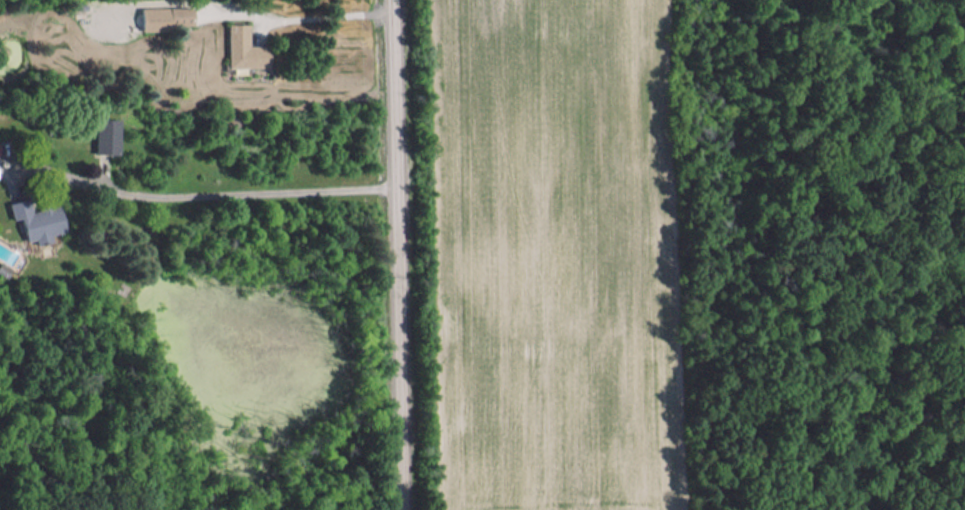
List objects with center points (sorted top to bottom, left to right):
road: (329, 10)
building: (181, 16)
building: (246, 49)
building: (108, 136)
road: (208, 190)
building: (39, 220)
road: (403, 254)

